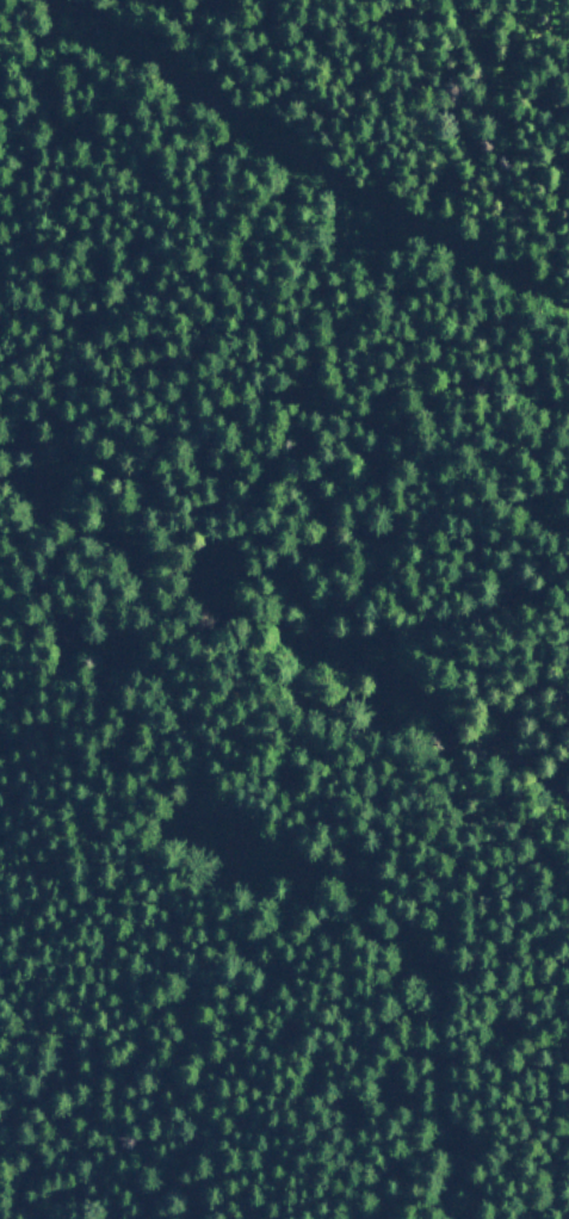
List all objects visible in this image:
road: (311, 161)

